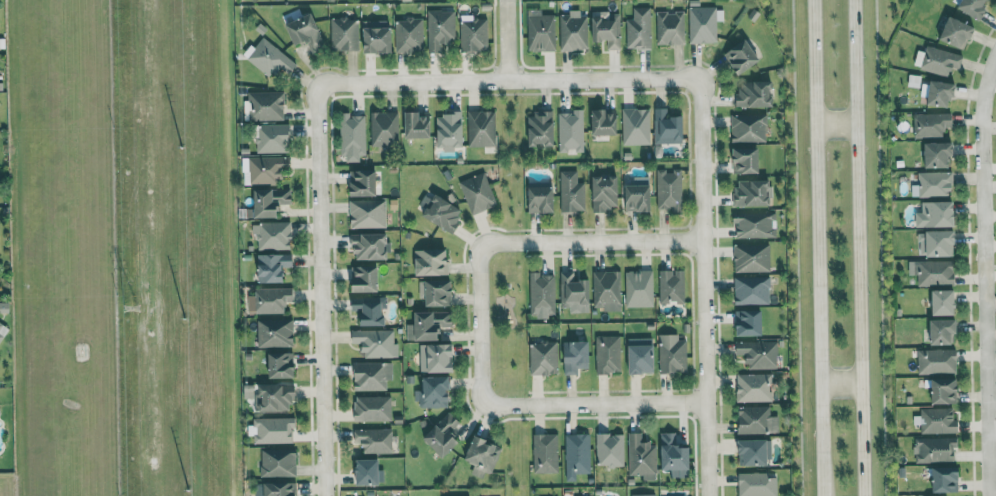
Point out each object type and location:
building: (975, 6)
building: (703, 24)
building: (670, 27)
building: (607, 28)
building: (639, 28)
building: (440, 30)
building: (541, 30)
building: (573, 31)
building: (957, 32)
building: (305, 33)
building: (344, 34)
building: (474, 34)
building: (409, 35)
building: (378, 37)
road: (508, 40)
building: (743, 56)
building: (271, 59)
building: (940, 60)
road: (509, 80)
building: (941, 92)
building: (755, 93)
building: (267, 105)
building: (605, 121)
road: (835, 123)
building: (418, 124)
building: (932, 124)
building: (636, 126)
building: (481, 127)
building: (667, 127)
building: (749, 127)
building: (385, 128)
building: (541, 128)
building: (450, 130)
building: (571, 130)
building: (353, 137)
building: (273, 138)
building: (939, 154)
building: (746, 160)
building: (268, 169)
building: (364, 183)
building: (934, 184)
building: (669, 190)
building: (571, 192)
building: (752, 192)
building: (477, 193)
building: (605, 193)
building: (638, 195)
building: (541, 197)
building: (271, 201)
building: (441, 212)
building: (368, 213)
building: (937, 214)
building: (755, 225)
building: (273, 235)
road: (592, 241)
building: (941, 242)
building: (370, 245)
road: (857, 247)
road: (818, 248)
road: (987, 255)
building: (752, 256)
building: (432, 261)
building: (273, 267)
building: (933, 272)
building: (365, 278)
building: (672, 285)
building: (639, 288)
road: (704, 288)
building: (607, 290)
building: (752, 290)
road: (323, 291)
building: (436, 292)
building: (574, 292)
building: (542, 295)
power tower: (131, 300)
building: (270, 300)
building: (944, 302)
building: (370, 309)
building: (749, 322)
park: (508, 323)
building: (429, 325)
road: (481, 326)
building: (944, 331)
building: (2, 332)
building: (275, 332)
building: (376, 342)
building: (672, 353)
building: (759, 353)
building: (608, 354)
building: (642, 355)
building: (576, 356)
building: (437, 357)
building: (544, 358)
building: (937, 361)
building: (282, 365)
building: (372, 375)
road: (840, 384)
building: (754, 387)
building: (945, 391)
building: (434, 392)
building: (272, 396)
road: (598, 403)
building: (372, 408)
building: (0, 411)
building: (757, 420)
building: (937, 421)
building: (274, 429)
building: (443, 434)
building: (374, 440)
building: (610, 449)
building: (935, 449)
building: (754, 452)
building: (545, 453)
building: (577, 455)
building: (674, 455)
building: (483, 456)
building: (642, 457)
building: (278, 462)
building: (368, 472)
building: (946, 479)
building: (757, 484)
building: (280, 489)
building: (643, 494)

